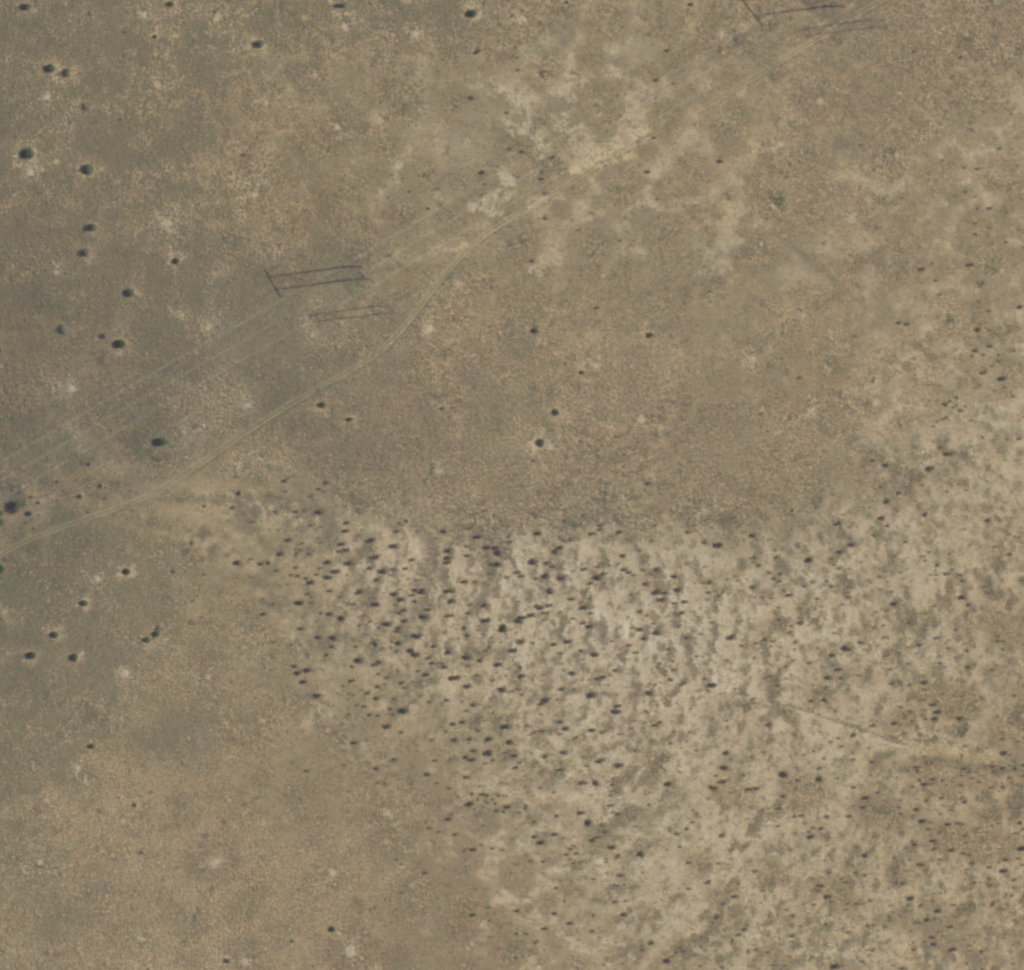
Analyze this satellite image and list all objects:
power tower: (873, 24)
power tower: (351, 271)
power tower: (379, 308)

